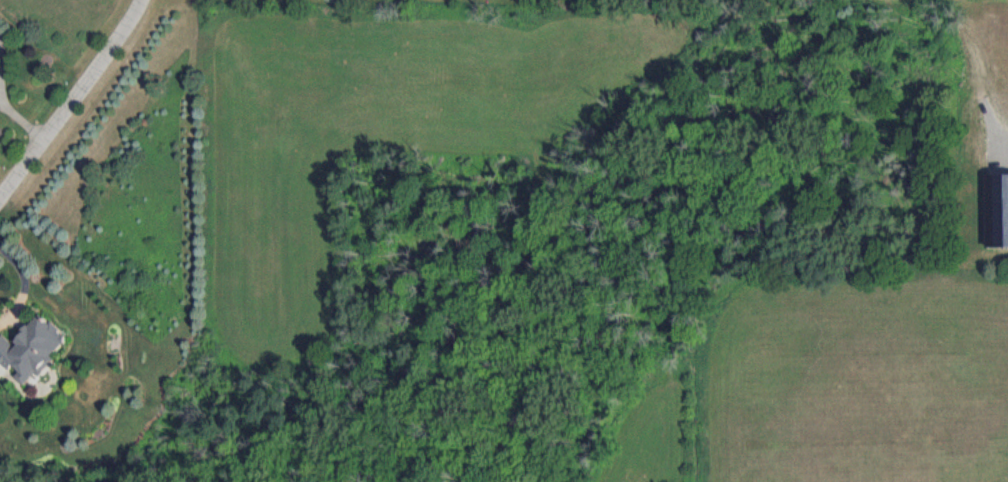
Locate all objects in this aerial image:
building: (0, 36)
road: (72, 97)
road: (5, 99)
building: (31, 349)

